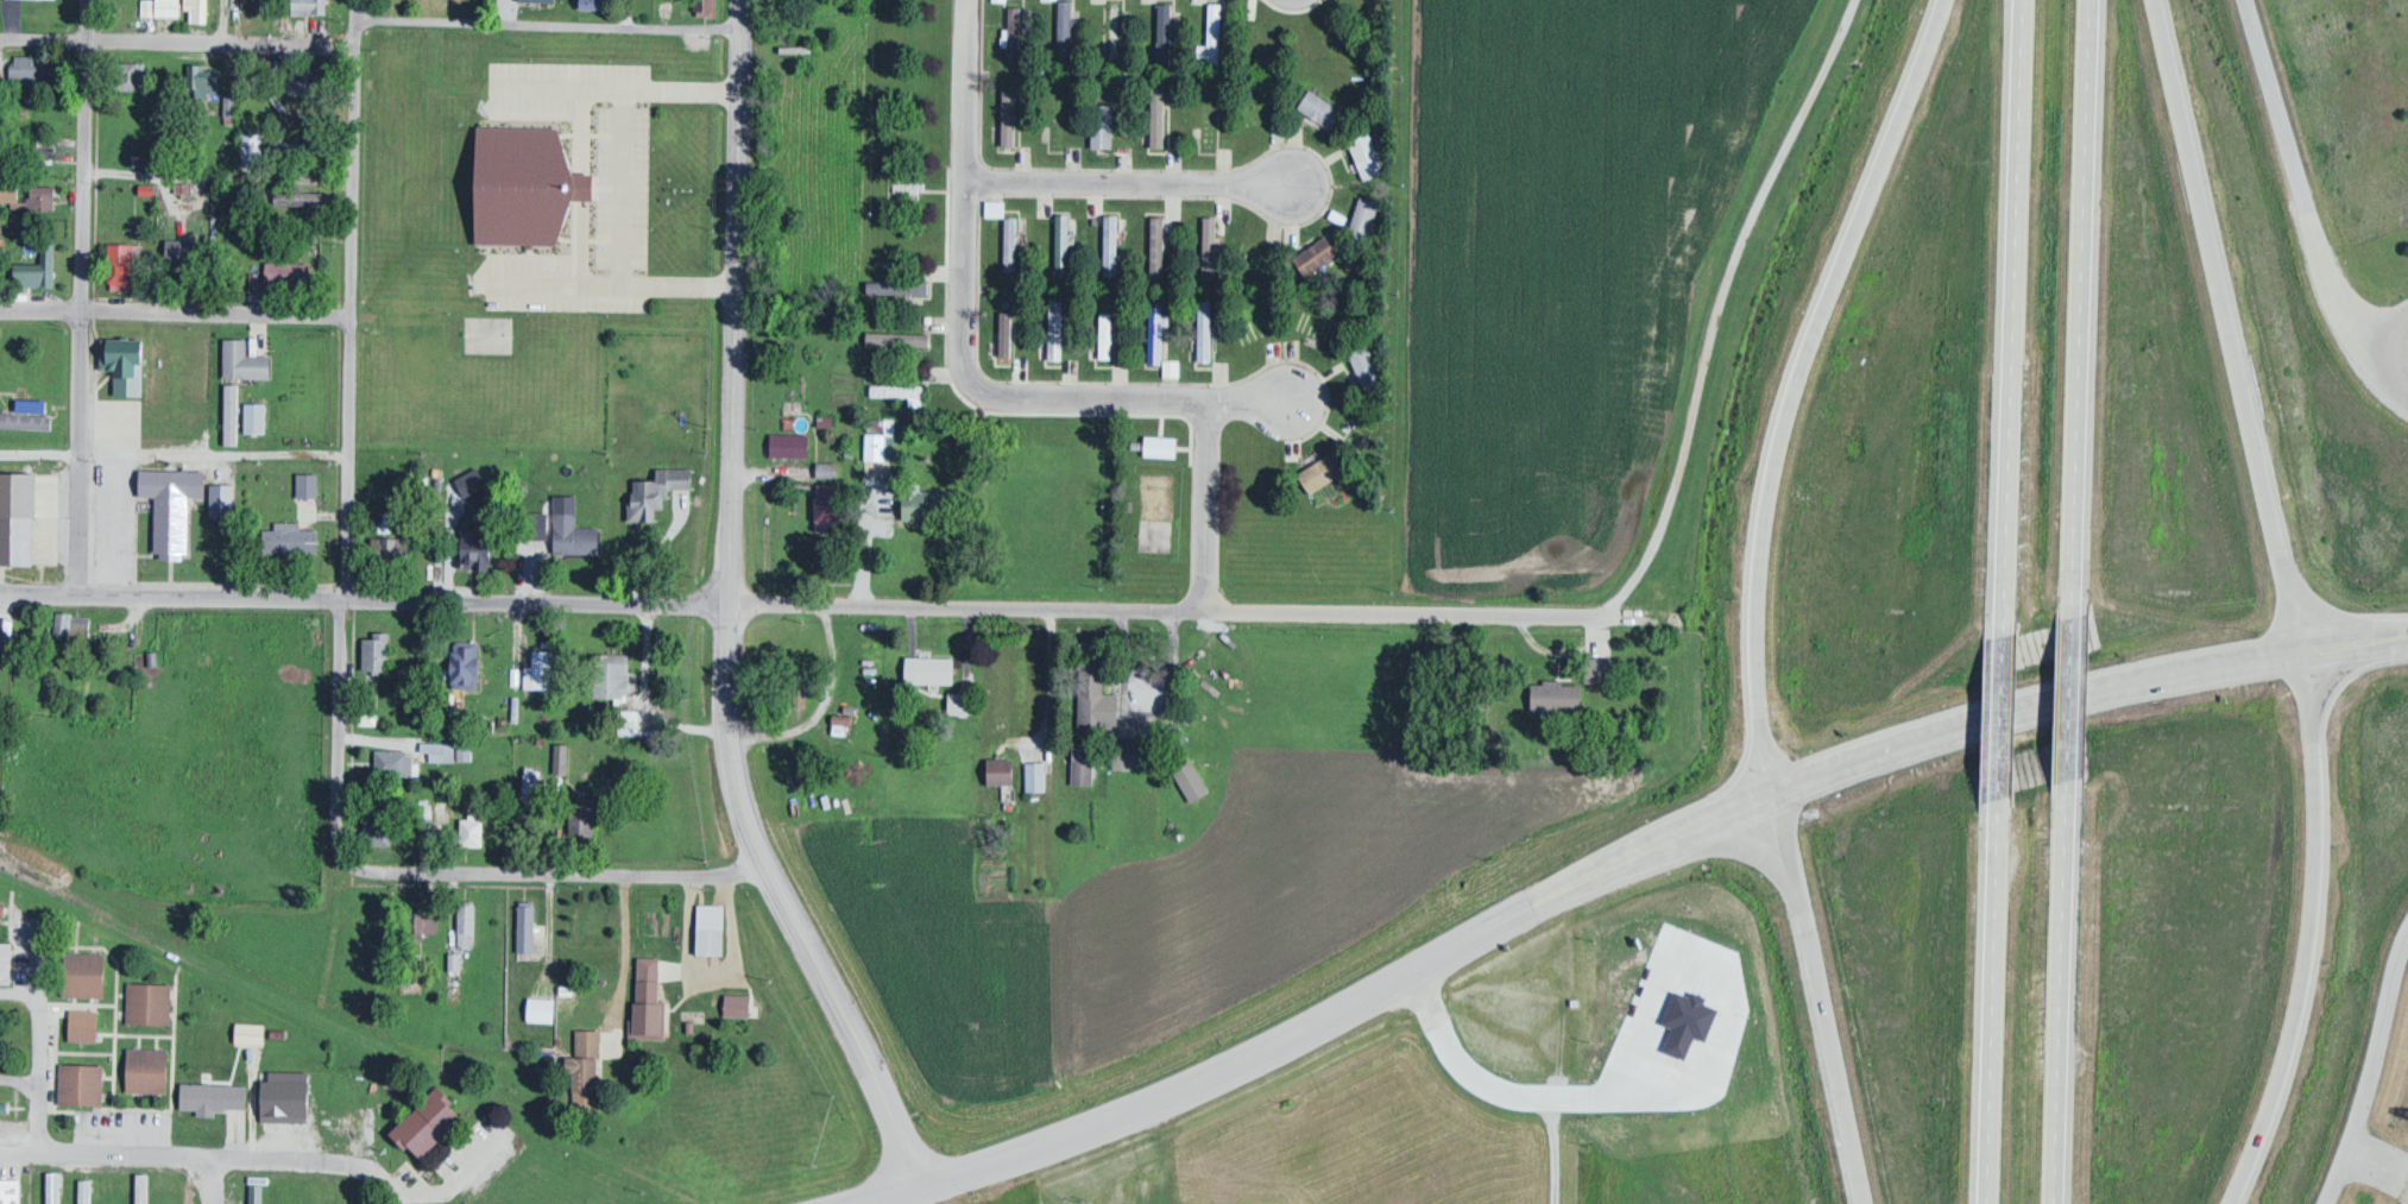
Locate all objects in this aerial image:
building: (595, 2)
building: (206, 5)
building: (239, 5)
building: (169, 6)
building: (310, 6)
road: (549, 25)
building: (1065, 26)
building: (1116, 30)
building: (1015, 31)
building: (1216, 31)
road: (175, 44)
building: (31, 69)
building: (203, 78)
building: (309, 80)
building: (1323, 107)
building: (1011, 115)
building: (1211, 115)
building: (1105, 124)
building: (48, 145)
building: (252, 147)
road: (1127, 181)
building: (12, 188)
building: (522, 194)
building: (46, 195)
road: (2307, 209)
building: (1007, 231)
building: (1112, 242)
building: (1211, 245)
building: (1318, 253)
building: (185, 254)
building: (121, 265)
building: (39, 266)
building: (289, 270)
building: (899, 285)
road: (82, 297)
road: (346, 300)
road: (2076, 308)
road: (172, 309)
road: (964, 311)
road: (1721, 311)
road: (2016, 316)
road: (2229, 323)
building: (1007, 335)
road: (2383, 335)
building: (901, 336)
building: (1058, 336)
building: (1156, 339)
building: (1205, 340)
building: (1108, 343)
building: (247, 359)
building: (127, 361)
building: (1367, 366)
road: (1791, 383)
building: (31, 399)
road: (1247, 401)
building: (233, 412)
building: (258, 416)
building: (790, 443)
building: (828, 467)
building: (1324, 469)
building: (472, 481)
building: (309, 484)
building: (660, 491)
building: (19, 494)
building: (225, 498)
building: (920, 500)
building: (175, 504)
building: (832, 505)
road: (1205, 505)
building: (386, 521)
building: (578, 535)
building: (19, 537)
building: (290, 537)
building: (387, 544)
building: (480, 547)
road: (818, 600)
road: (729, 613)
building: (70, 623)
building: (377, 650)
building: (468, 663)
building: (933, 668)
building: (542, 669)
building: (613, 675)
building: (153, 676)
building: (1096, 683)
road: (2085, 691)
building: (1557, 694)
road: (2063, 696)
road: (1999, 725)
road: (336, 736)
building: (1131, 750)
building: (562, 759)
building: (396, 762)
building: (1085, 763)
building: (1004, 769)
building: (1038, 775)
building: (587, 818)
building: (473, 825)
building: (380, 832)
road: (559, 876)
building: (427, 916)
building: (468, 924)
building: (528, 926)
building: (713, 928)
road: (2309, 931)
building: (6, 962)
building: (88, 972)
road: (2057, 990)
road: (1820, 995)
building: (651, 997)
building: (151, 1002)
road: (1353, 1002)
building: (739, 1004)
road: (1991, 1010)
building: (86, 1028)
building: (588, 1066)
building: (150, 1069)
road: (2377, 1077)
building: (83, 1083)
building: (221, 1096)
building: (286, 1096)
building: (351, 1121)
building: (434, 1123)
road: (188, 1160)
building: (56, 1187)
building: (144, 1189)
building: (12, 1190)
building: (87, 1191)
building: (290, 1191)
building: (317, 1191)
building: (355, 1191)
building: (264, 1193)
road: (888, 1194)

